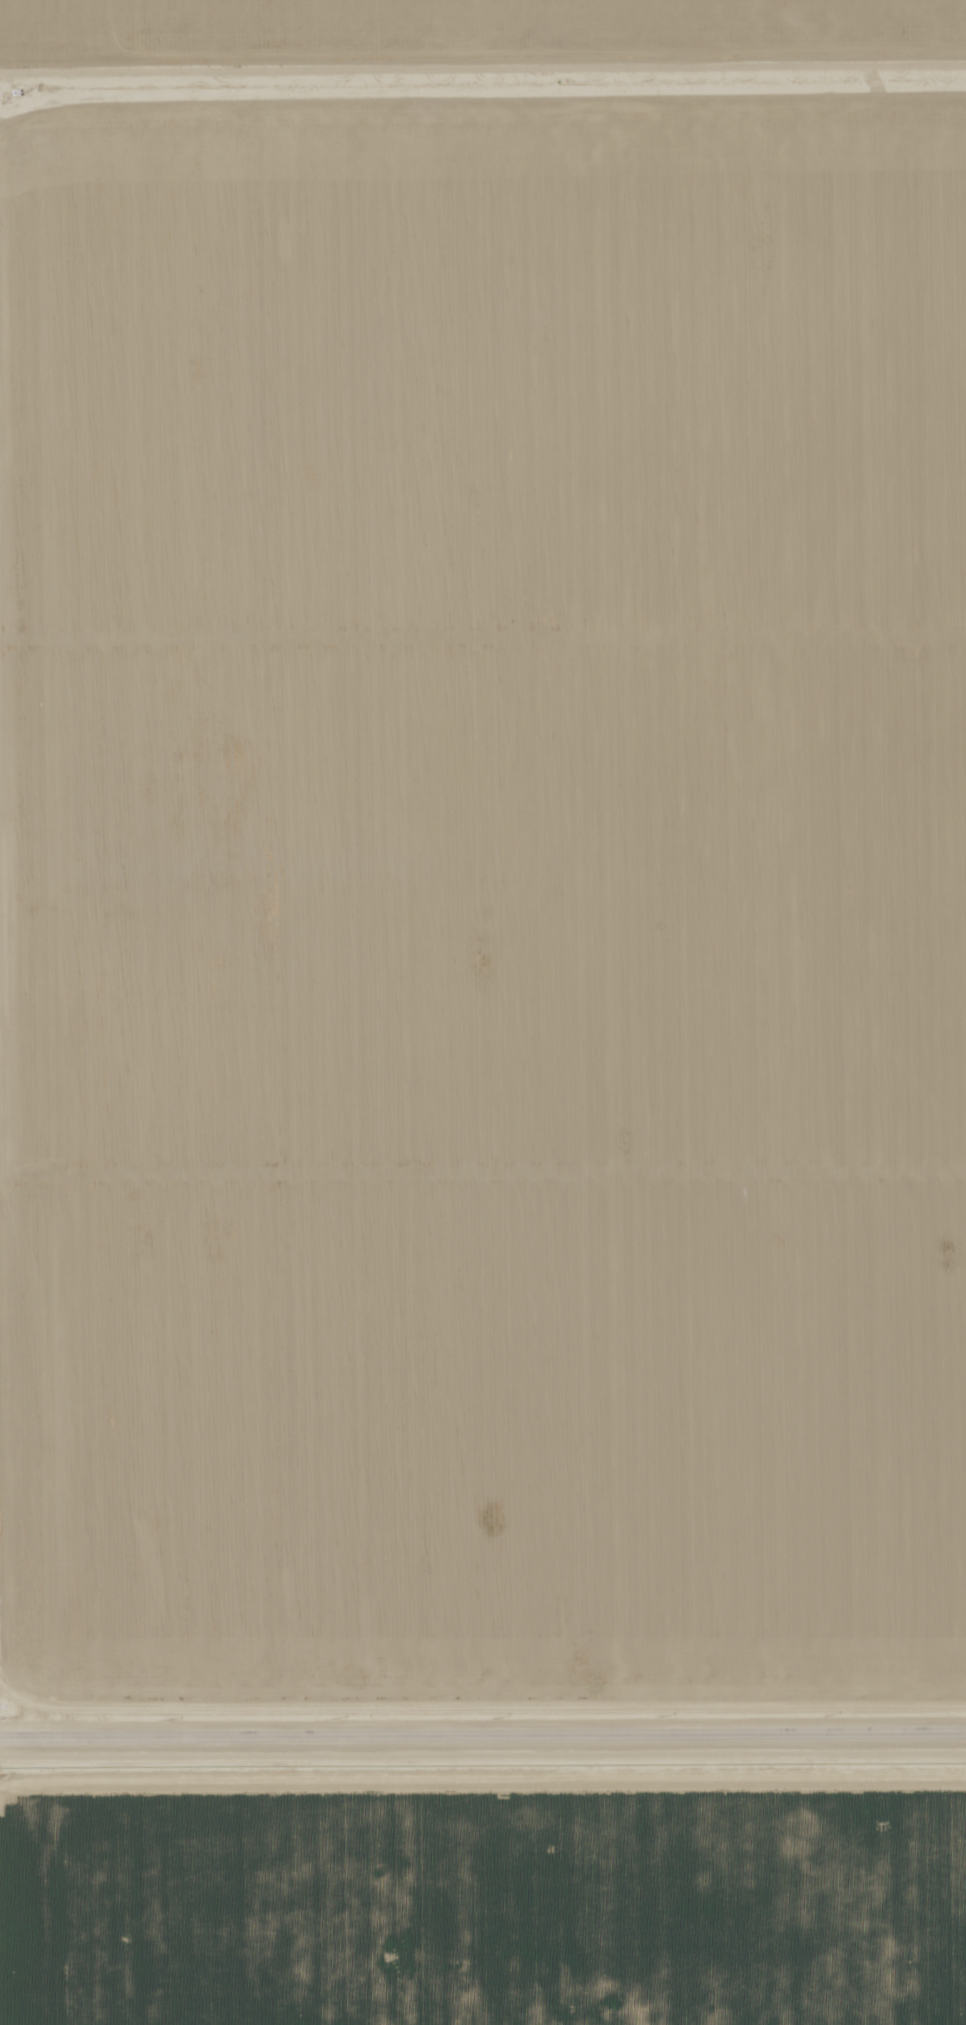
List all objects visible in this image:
crop: (478, 29)
crop: (488, 886)
road: (483, 1732)
crop: (483, 1891)

